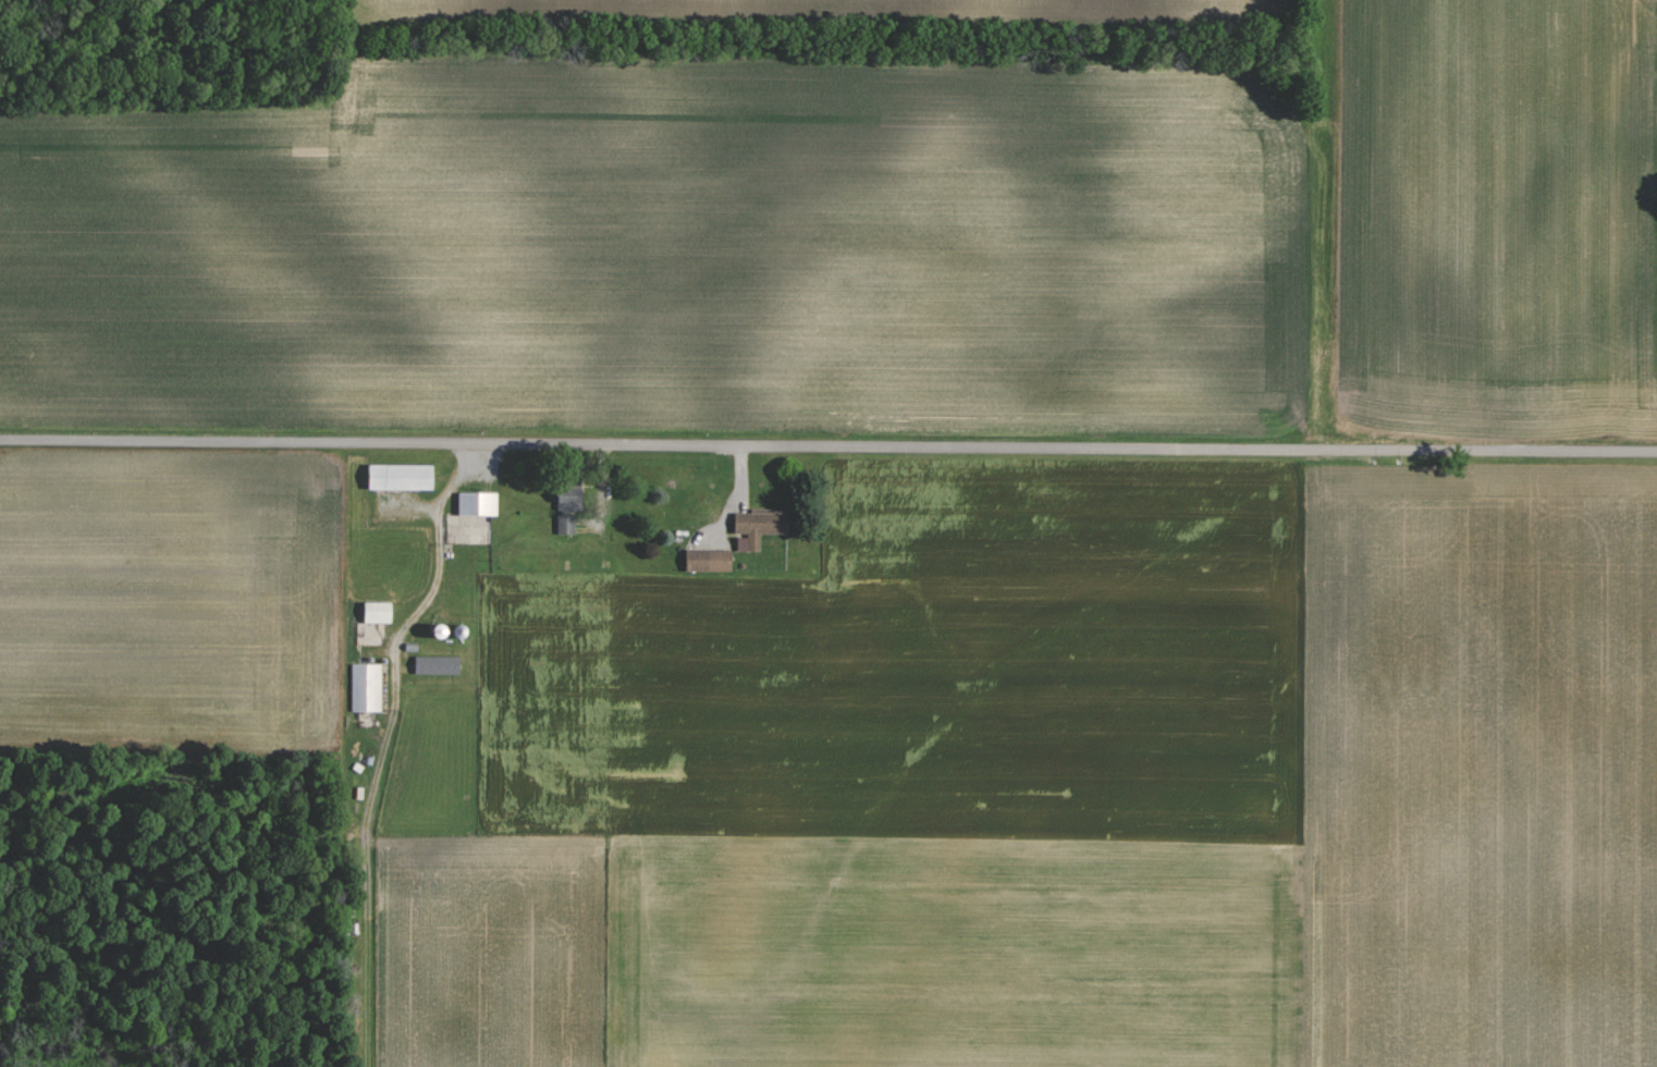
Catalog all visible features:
road: (827, 445)
building: (403, 477)
building: (573, 501)
building: (479, 504)
building: (567, 525)
building: (762, 525)
road: (434, 566)
building: (380, 612)
building: (439, 664)
building: (367, 686)

